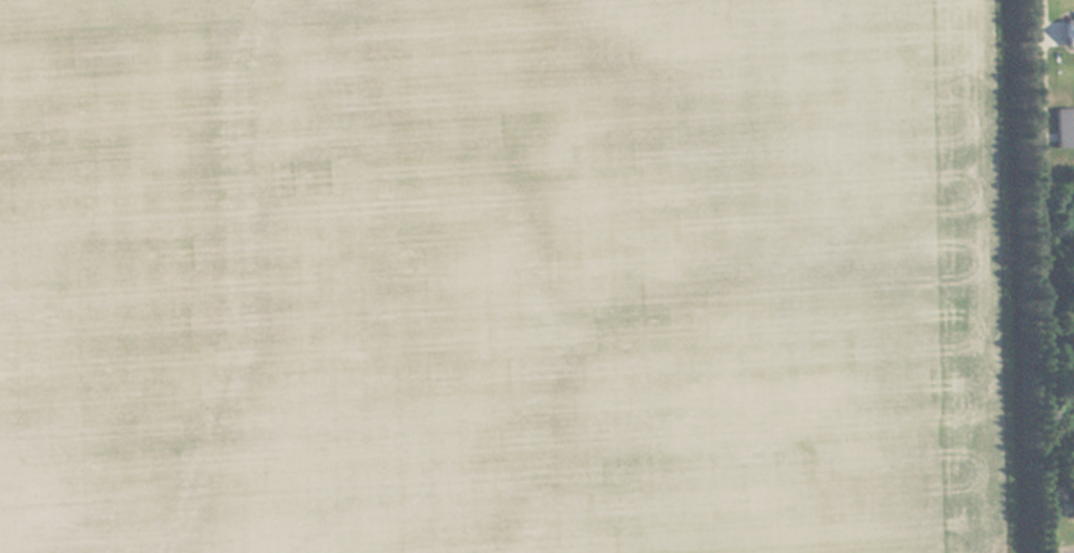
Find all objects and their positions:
building: (1070, 33)
building: (1065, 129)

